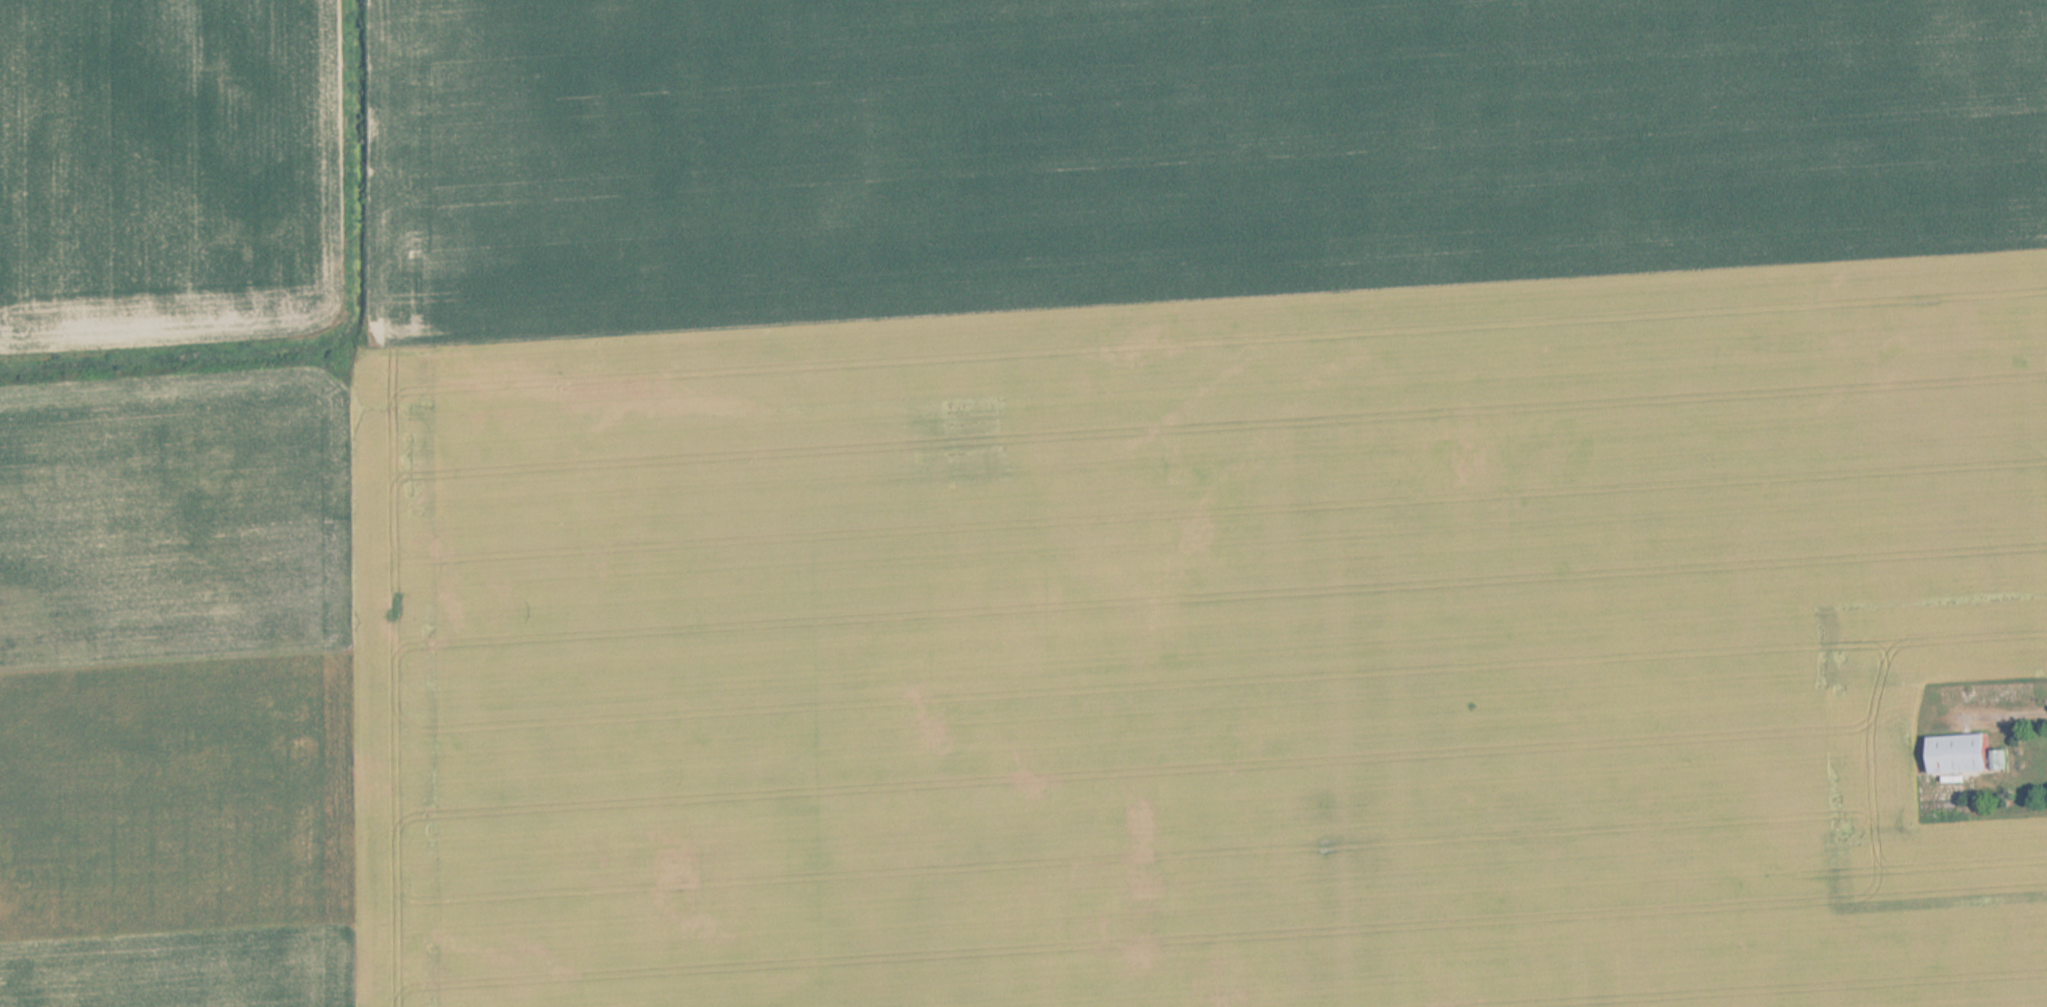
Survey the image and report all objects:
building: (1969, 755)

